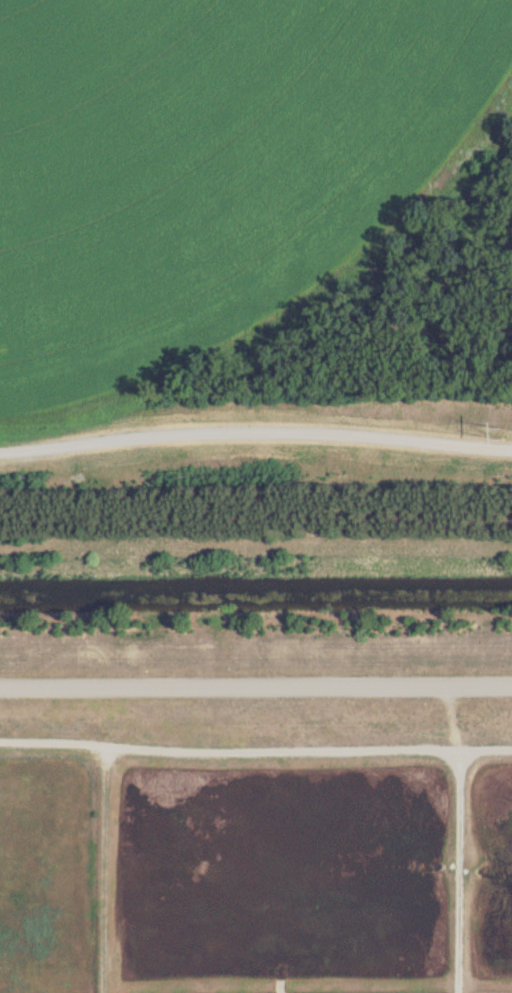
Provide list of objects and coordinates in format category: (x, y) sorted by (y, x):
power tower: (503, 426)
wastewater plant: (256, 496)
road: (256, 680)
road: (255, 743)

